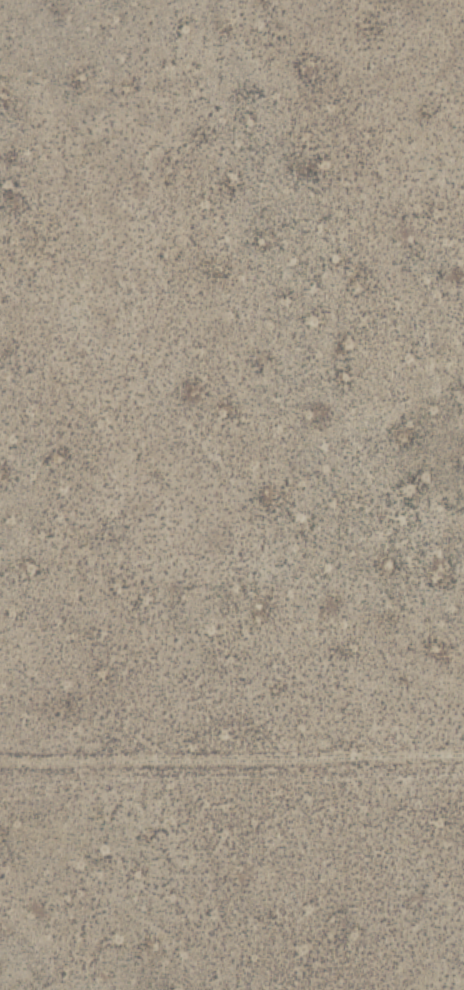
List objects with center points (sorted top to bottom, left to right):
road: (232, 751)

